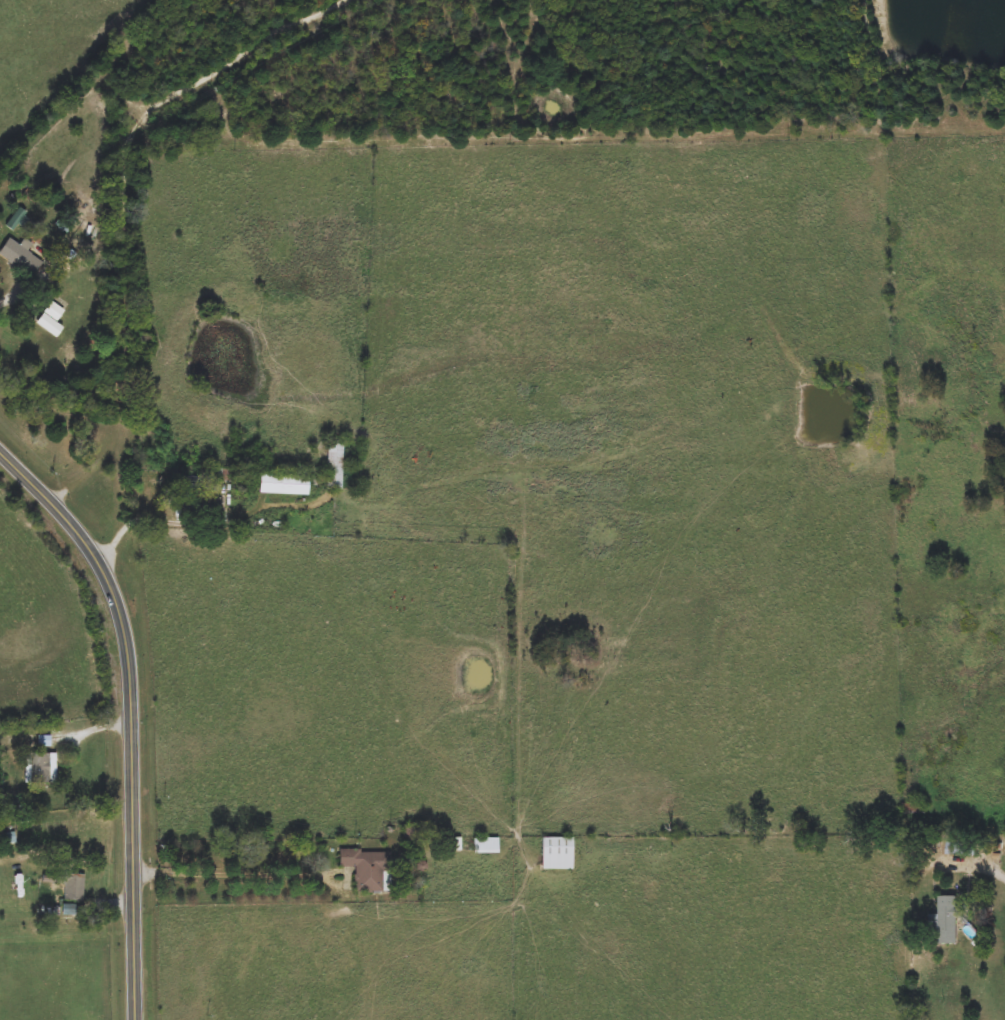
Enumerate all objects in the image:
building: (20, 257)
road: (9, 285)
building: (335, 465)
building: (283, 484)
building: (189, 493)
road: (220, 520)
road: (135, 708)
road: (68, 730)
building: (39, 769)
building: (486, 846)
building: (958, 848)
building: (557, 854)
road: (989, 865)
building: (368, 870)
road: (266, 876)
building: (69, 887)
building: (948, 919)

